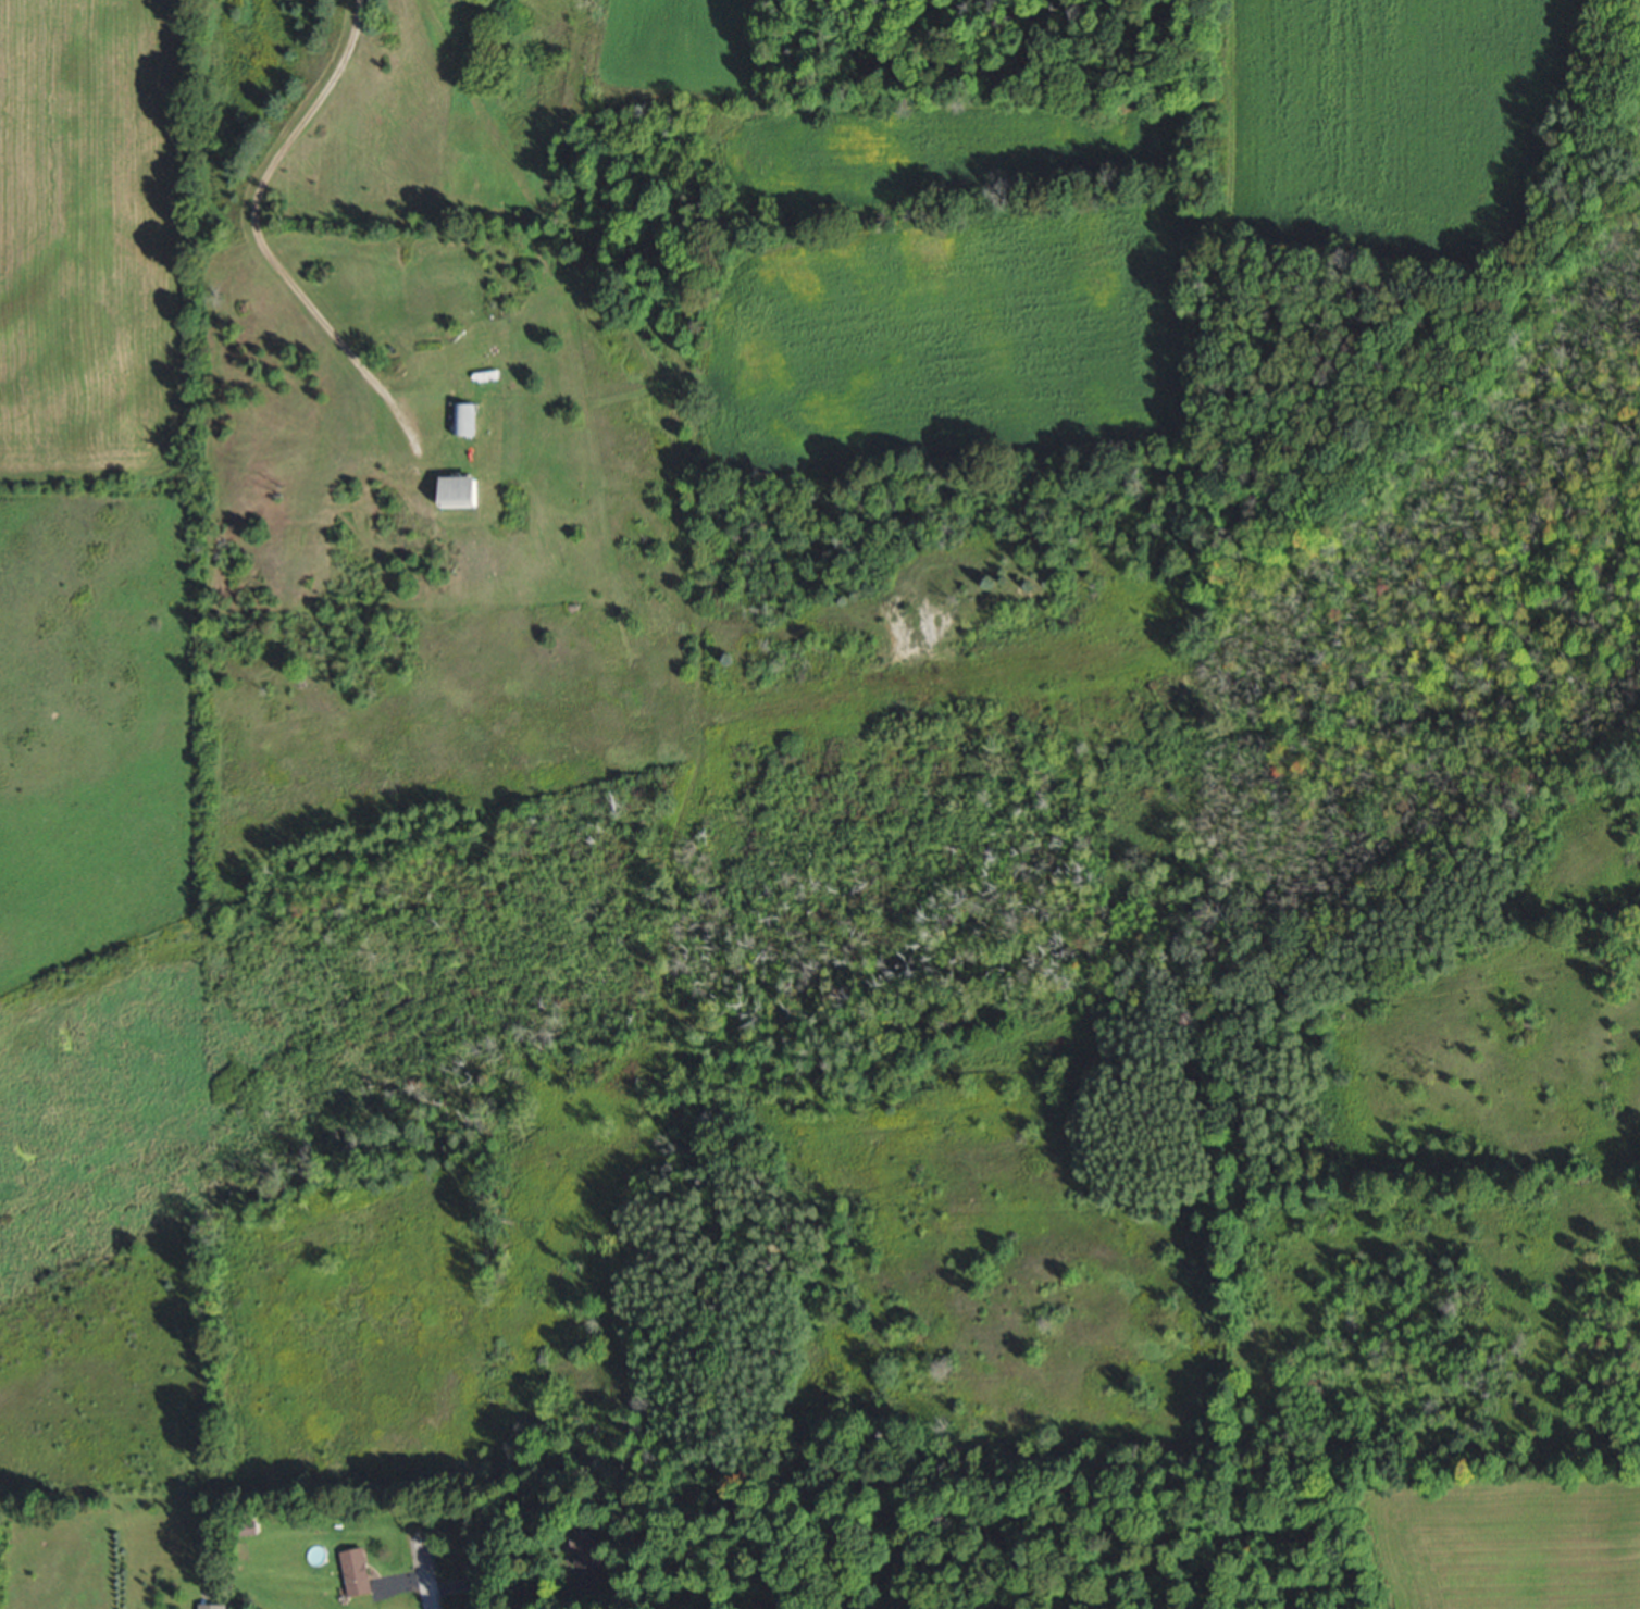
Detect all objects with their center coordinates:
building: (461, 416)
building: (461, 489)
building: (589, 1546)
building: (355, 1571)
road: (428, 1573)

